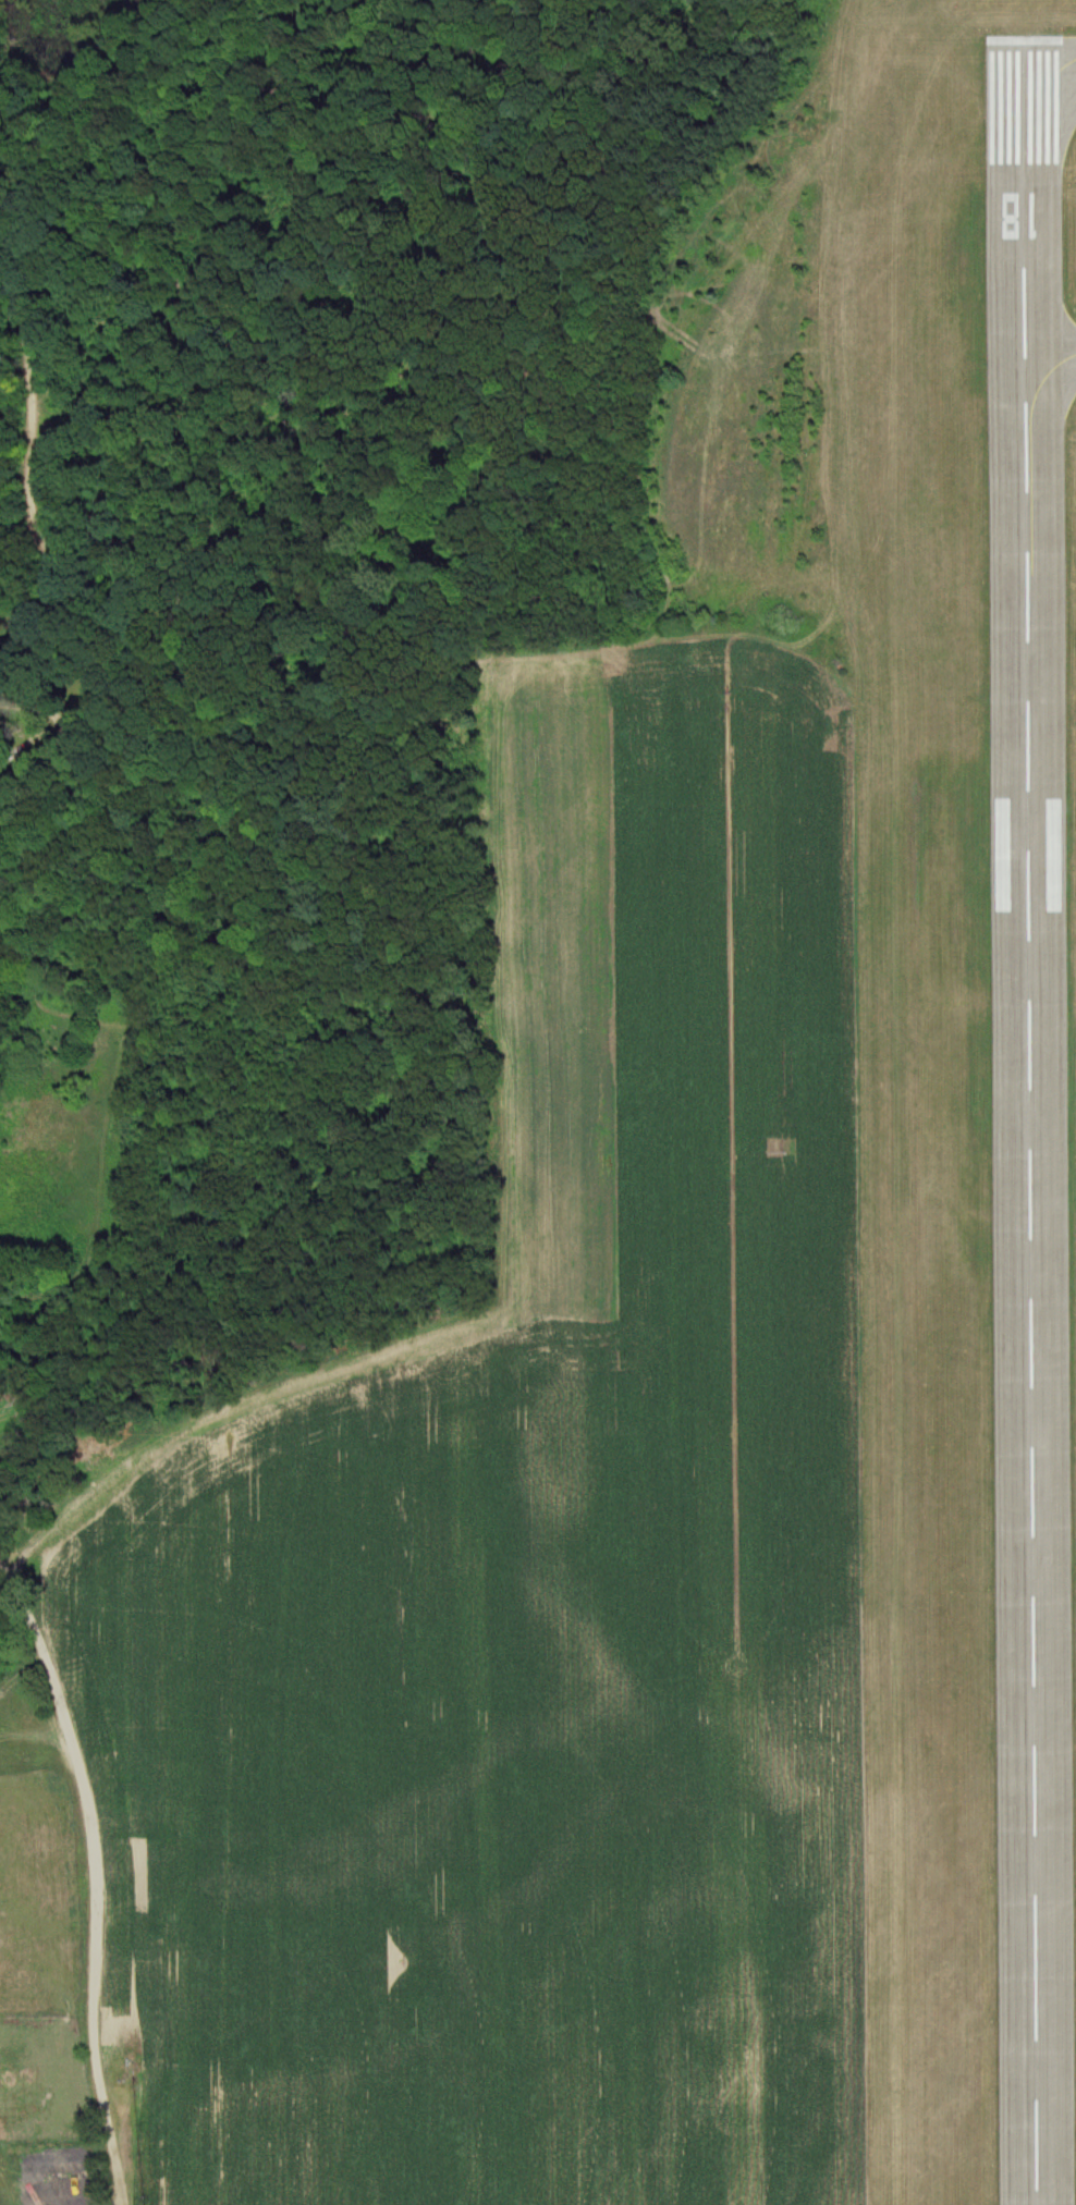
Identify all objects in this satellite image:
airport taxiway: (1050, 79)
airport taxiway: (1031, 456)
road: (35, 547)
road: (4, 742)
airport runway: (1032, 1124)
crop: (531, 1564)
road: (95, 1882)

